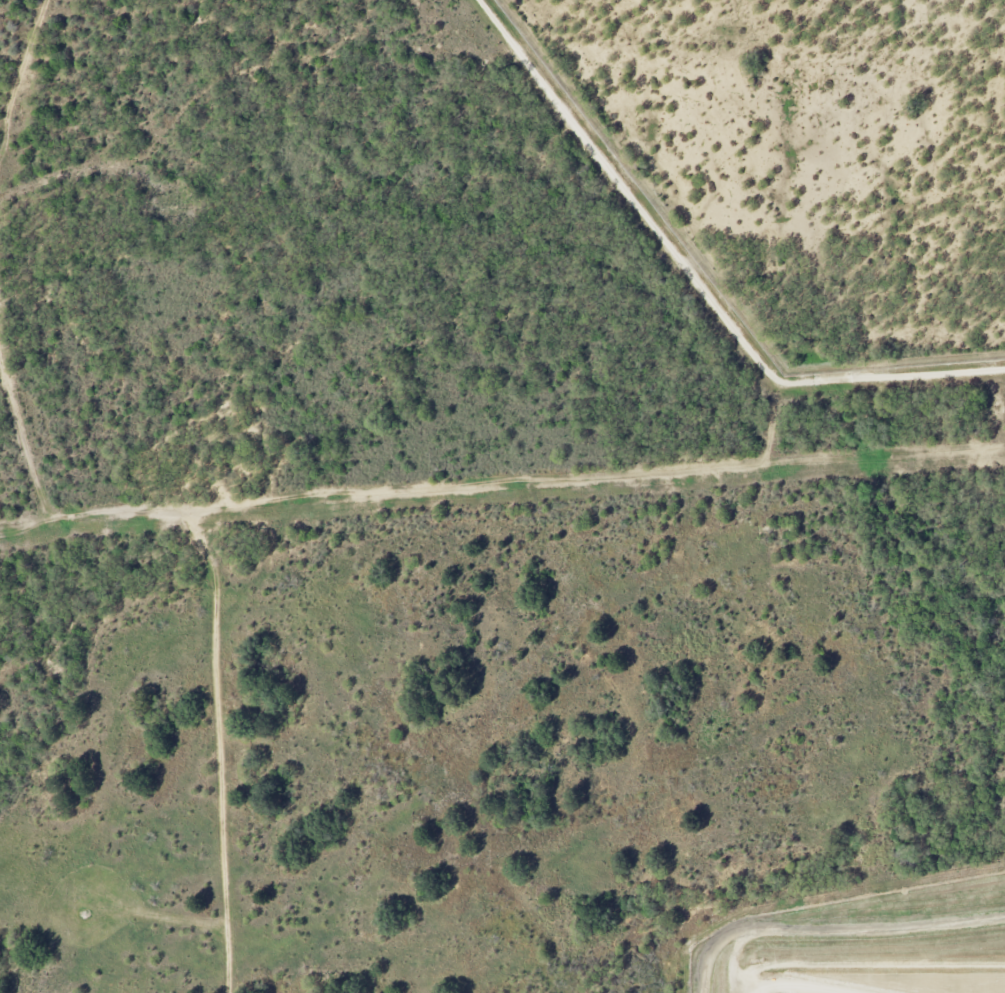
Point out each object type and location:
road: (20, 71)
road: (696, 281)
road: (773, 423)
road: (23, 439)
road: (502, 482)
road: (266, 562)
road: (217, 746)
road: (845, 933)

